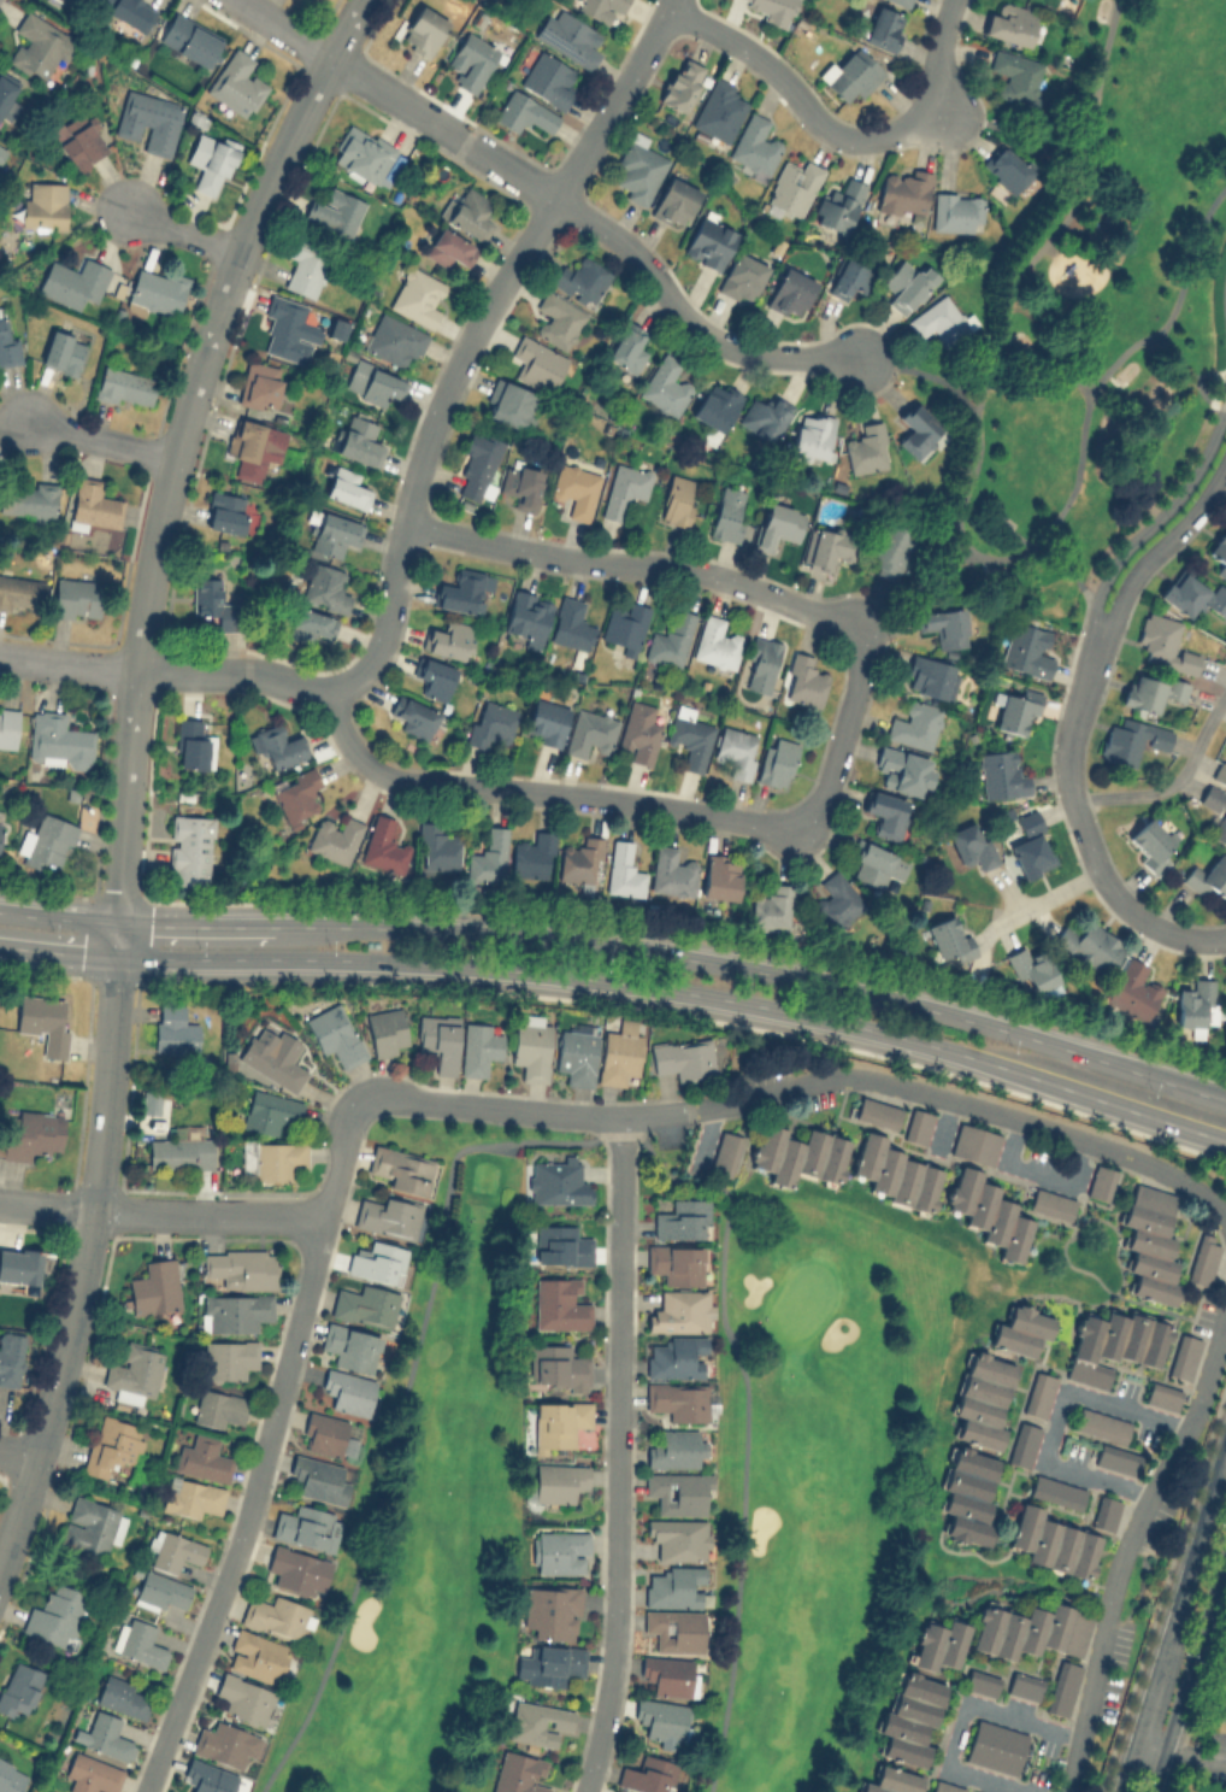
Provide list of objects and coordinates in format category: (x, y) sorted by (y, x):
building: (900, 1)
building: (72, 2)
building: (601, 8)
building: (774, 10)
building: (128, 11)
building: (1009, 23)
building: (883, 27)
road: (284, 28)
building: (423, 30)
building: (568, 36)
building: (189, 39)
building: (39, 46)
building: (471, 60)
building: (850, 74)
building: (1015, 75)
building: (549, 78)
building: (236, 83)
building: (680, 83)
building: (6, 95)
building: (718, 108)
building: (524, 112)
building: (148, 121)
road: (443, 127)
road: (1008, 130)
road: (838, 133)
building: (754, 143)
building: (82, 146)
building: (2, 151)
building: (363, 153)
building: (212, 165)
building: (1006, 168)
building: (638, 169)
building: (794, 187)
building: (903, 192)
building: (674, 200)
building: (45, 204)
building: (838, 205)
building: (334, 211)
building: (468, 211)
building: (955, 211)
road: (1056, 229)
road: (184, 231)
building: (709, 242)
building: (448, 247)
building: (305, 269)
building: (742, 275)
building: (848, 277)
building: (580, 280)
building: (72, 281)
building: (907, 284)
building: (157, 290)
building: (789, 290)
building: (417, 295)
building: (558, 318)
park: (1090, 318)
road: (686, 319)
building: (939, 319)
building: (336, 327)
building: (289, 330)
road: (471, 334)
building: (394, 339)
building: (7, 345)
building: (627, 347)
building: (63, 351)
building: (536, 363)
road: (1184, 369)
road: (936, 377)
building: (372, 383)
building: (665, 384)
building: (124, 386)
building: (259, 386)
road: (963, 399)
building: (507, 403)
building: (715, 405)
building: (764, 415)
building: (916, 429)
building: (812, 434)
building: (358, 439)
road: (100, 440)
road: (176, 443)
building: (253, 446)
building: (866, 447)
road: (1078, 454)
building: (479, 463)
road: (973, 463)
building: (520, 484)
building: (346, 487)
building: (574, 488)
building: (624, 488)
building: (28, 499)
building: (677, 499)
building: (93, 504)
building: (224, 511)
building: (727, 512)
road: (1159, 515)
building: (777, 524)
building: (334, 533)
road: (1159, 546)
building: (829, 547)
building: (888, 550)
building: (1219, 552)
road: (1075, 558)
building: (325, 587)
building: (460, 591)
building: (19, 592)
building: (1192, 594)
building: (76, 598)
building: (212, 601)
building: (526, 615)
building: (570, 623)
building: (311, 624)
building: (624, 624)
building: (943, 625)
building: (448, 639)
building: (671, 639)
building: (715, 642)
building: (1163, 642)
building: (1025, 650)
building: (760, 663)
road: (166, 671)
building: (930, 676)
building: (434, 677)
building: (804, 680)
building: (1149, 691)
building: (1016, 711)
road: (1074, 713)
building: (412, 716)
building: (546, 721)
building: (489, 722)
building: (914, 723)
building: (7, 727)
building: (589, 732)
building: (638, 732)
building: (689, 736)
building: (1131, 739)
building: (57, 740)
building: (193, 745)
building: (277, 745)
building: (735, 751)
road: (835, 758)
building: (776, 760)
building: (903, 770)
building: (1220, 771)
building: (1001, 774)
road: (1172, 781)
building: (296, 794)
building: (886, 812)
building: (1220, 824)
building: (334, 839)
building: (47, 841)
building: (971, 844)
building: (1150, 844)
building: (383, 845)
building: (1031, 845)
building: (436, 846)
building: (189, 850)
building: (488, 856)
building: (532, 856)
building: (579, 859)
building: (876, 864)
building: (623, 870)
building: (672, 871)
building: (720, 876)
building: (1208, 876)
road: (1118, 897)
road: (1048, 898)
building: (837, 900)
building: (772, 907)
road: (59, 916)
road: (195, 923)
road: (1221, 938)
building: (949, 939)
building: (1089, 945)
building: (1030, 968)
road: (756, 969)
road: (623, 981)
building: (1132, 989)
building: (1195, 1005)
building: (42, 1022)
building: (173, 1029)
building: (385, 1030)
building: (334, 1033)
building: (438, 1040)
building: (478, 1047)
building: (530, 1048)
building: (576, 1054)
building: (619, 1054)
building: (683, 1057)
building: (278, 1063)
road: (982, 1107)
road: (541, 1109)
building: (269, 1111)
building: (876, 1111)
building: (915, 1124)
building: (28, 1132)
building: (973, 1142)
building: (181, 1152)
building: (725, 1152)
building: (798, 1153)
building: (276, 1158)
building: (401, 1168)
road: (1037, 1169)
building: (895, 1173)
building: (555, 1181)
building: (1100, 1181)
building: (1050, 1203)
road: (46, 1205)
road: (208, 1211)
building: (988, 1211)
building: (388, 1216)
building: (682, 1218)
building: (1149, 1242)
building: (560, 1245)
road: (86, 1250)
building: (1202, 1258)
building: (377, 1261)
building: (676, 1263)
building: (18, 1264)
building: (242, 1268)
building: (154, 1287)
building: (559, 1304)
building: (365, 1305)
building: (680, 1310)
building: (234, 1311)
building: (1020, 1330)
building: (1114, 1344)
building: (349, 1346)
building: (1183, 1355)
building: (11, 1356)
building: (677, 1357)
building: (228, 1358)
building: (555, 1365)
building: (134, 1370)
building: (348, 1391)
building: (1037, 1393)
building: (1162, 1394)
building: (678, 1399)
building: (982, 1399)
road: (402, 1400)
building: (218, 1406)
road: (1060, 1417)
building: (559, 1421)
building: (1101, 1424)
road: (744, 1426)
building: (324, 1433)
building: (1022, 1443)
building: (112, 1446)
road: (264, 1449)
building: (676, 1449)
road: (18, 1450)
road: (614, 1455)
building: (202, 1458)
building: (1116, 1458)
park: (823, 1462)
building: (318, 1477)
building: (555, 1481)
building: (1054, 1491)
building: (676, 1492)
building: (968, 1494)
building: (191, 1496)
park: (430, 1500)
building: (1104, 1510)
building: (90, 1524)
building: (307, 1527)
building: (678, 1538)
building: (1053, 1541)
road: (1125, 1544)
building: (173, 1550)
building: (559, 1551)
building: (296, 1569)
building: (674, 1586)
building: (163, 1591)
building: (549, 1610)
building: (55, 1615)
building: (277, 1616)
road: (1172, 1618)
building: (674, 1629)
building: (1031, 1629)
building: (138, 1641)
building: (939, 1644)
building: (257, 1656)
building: (553, 1663)
road: (1189, 1670)
building: (668, 1674)
building: (982, 1681)
building: (1024, 1685)
building: (1061, 1686)
building: (18, 1688)
building: (122, 1696)
building: (243, 1697)
building: (1222, 1704)
building: (910, 1716)
building: (661, 1718)
road: (959, 1720)
building: (538, 1722)
building: (106, 1734)
building: (222, 1743)
building: (995, 1746)
road: (1178, 1755)
building: (518, 1773)
building: (90, 1774)
building: (647, 1774)
building: (207, 1776)
building: (10, 1778)
building: (892, 1780)
building: (943, 1786)
building: (613, 1791)
building: (976, 1791)

